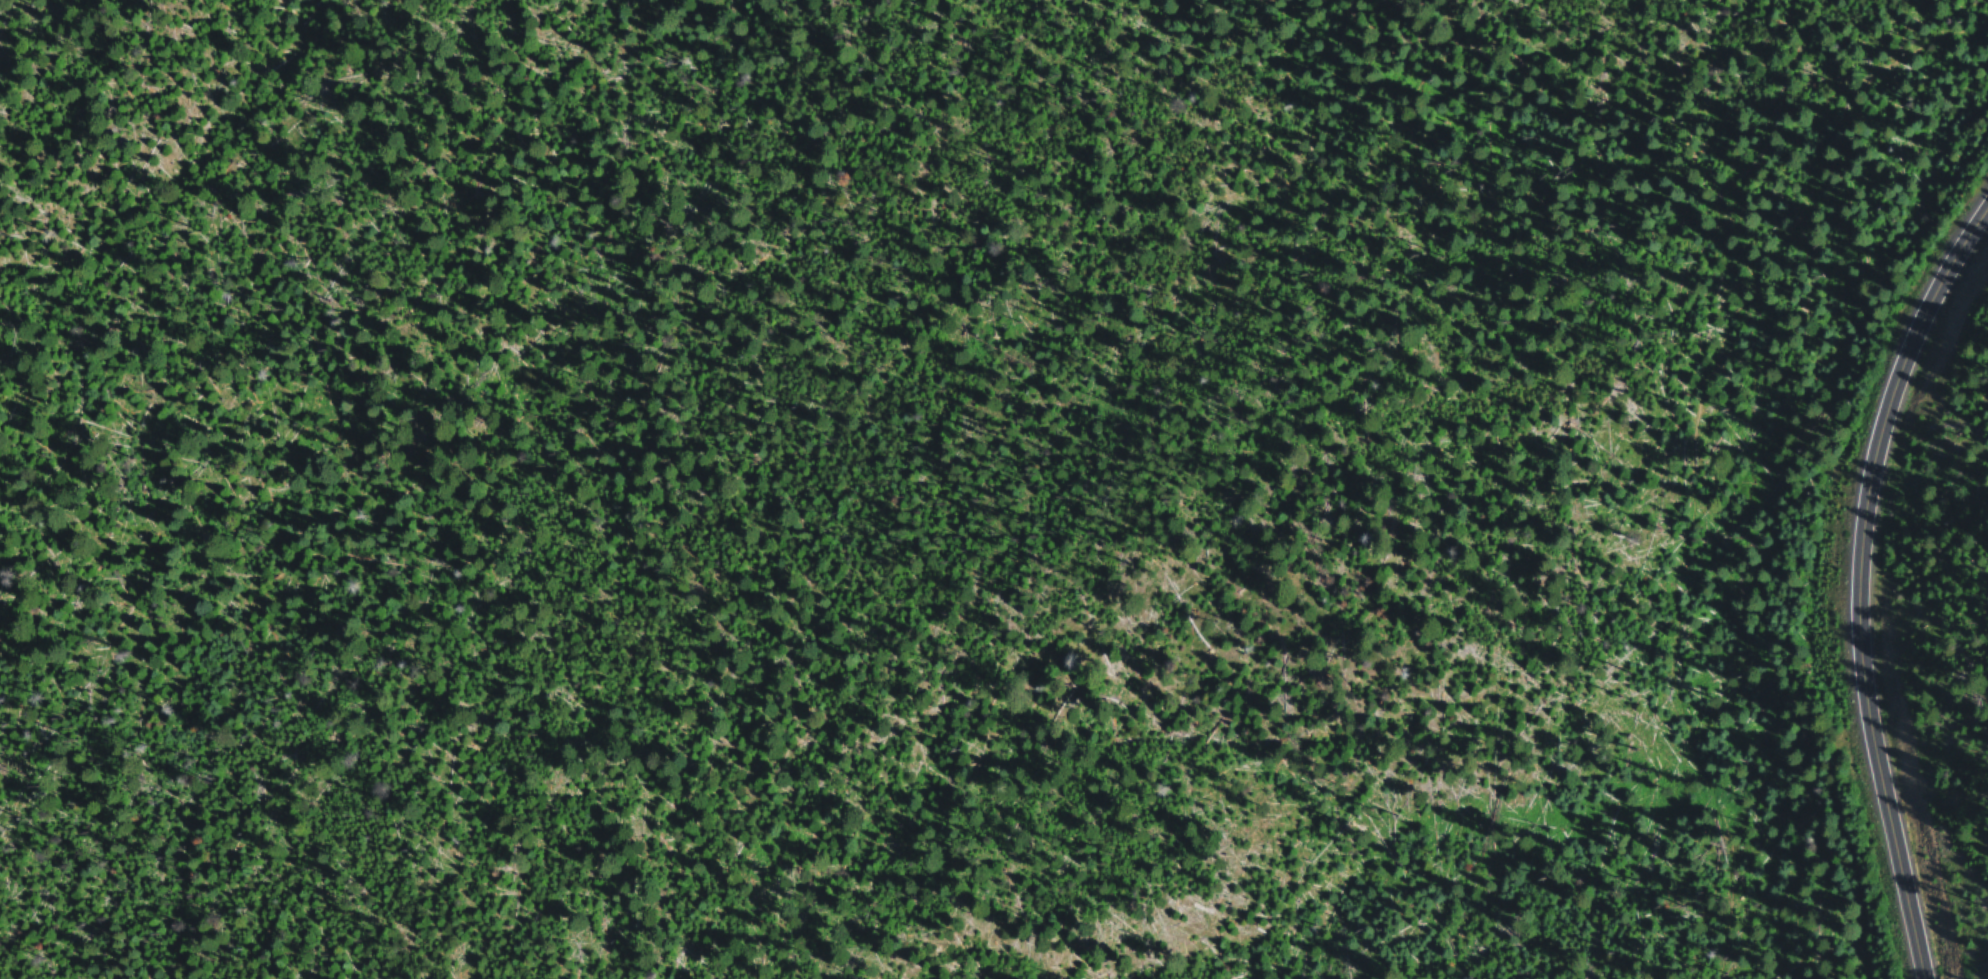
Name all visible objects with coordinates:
road: (1866, 586)
road: (1862, 892)

